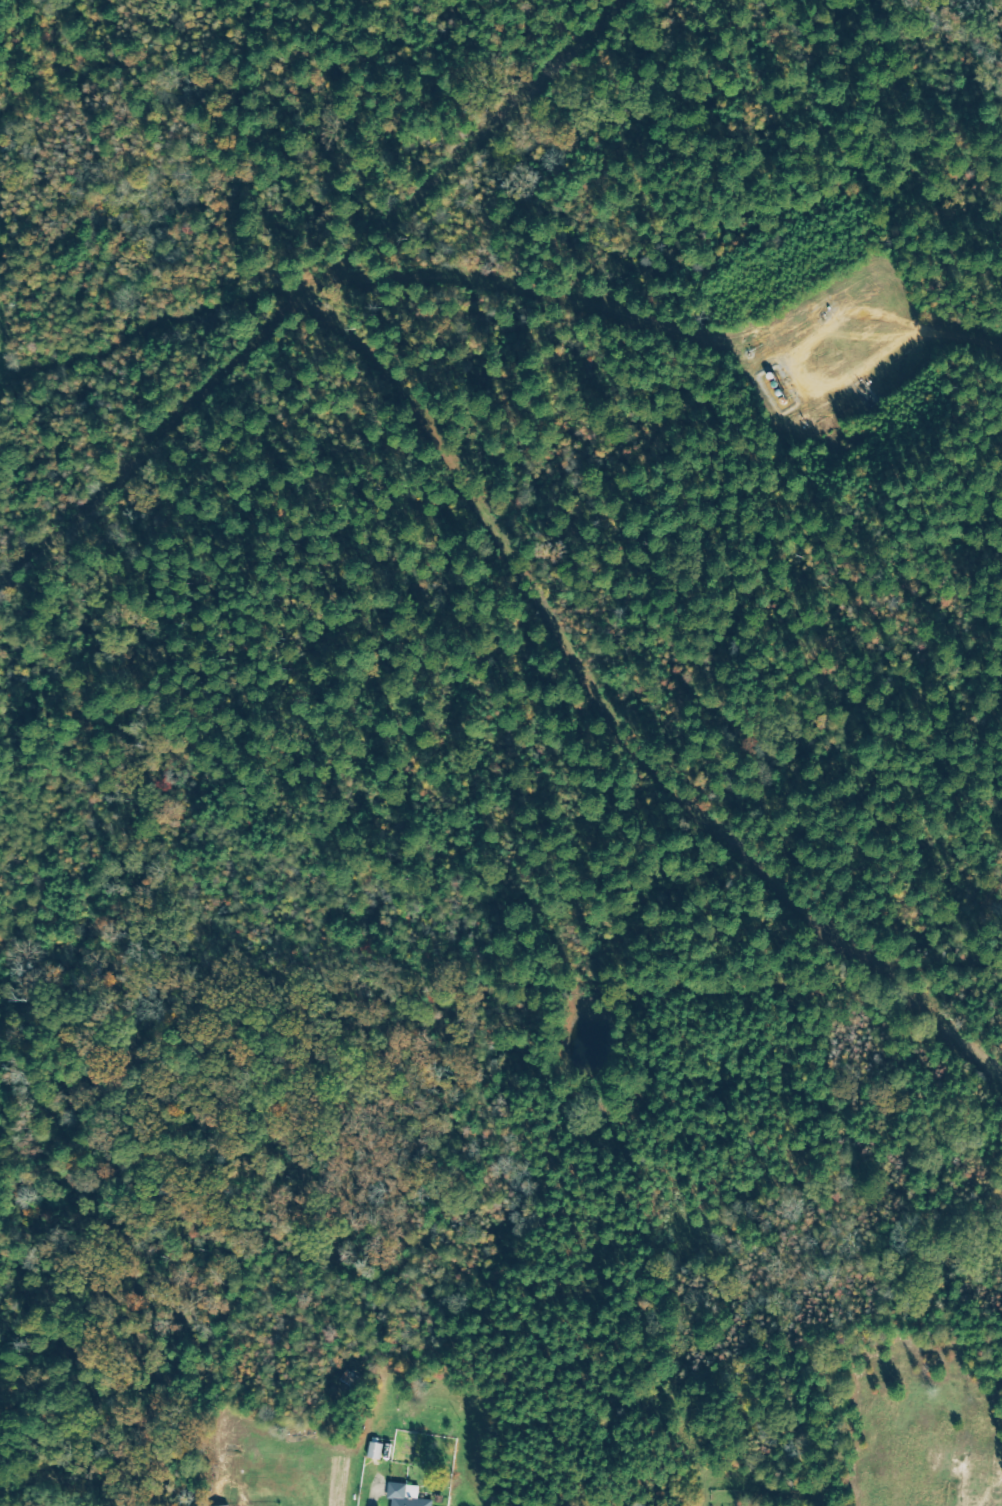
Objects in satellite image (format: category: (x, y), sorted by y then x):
building: (374, 1450)
building: (406, 1495)

